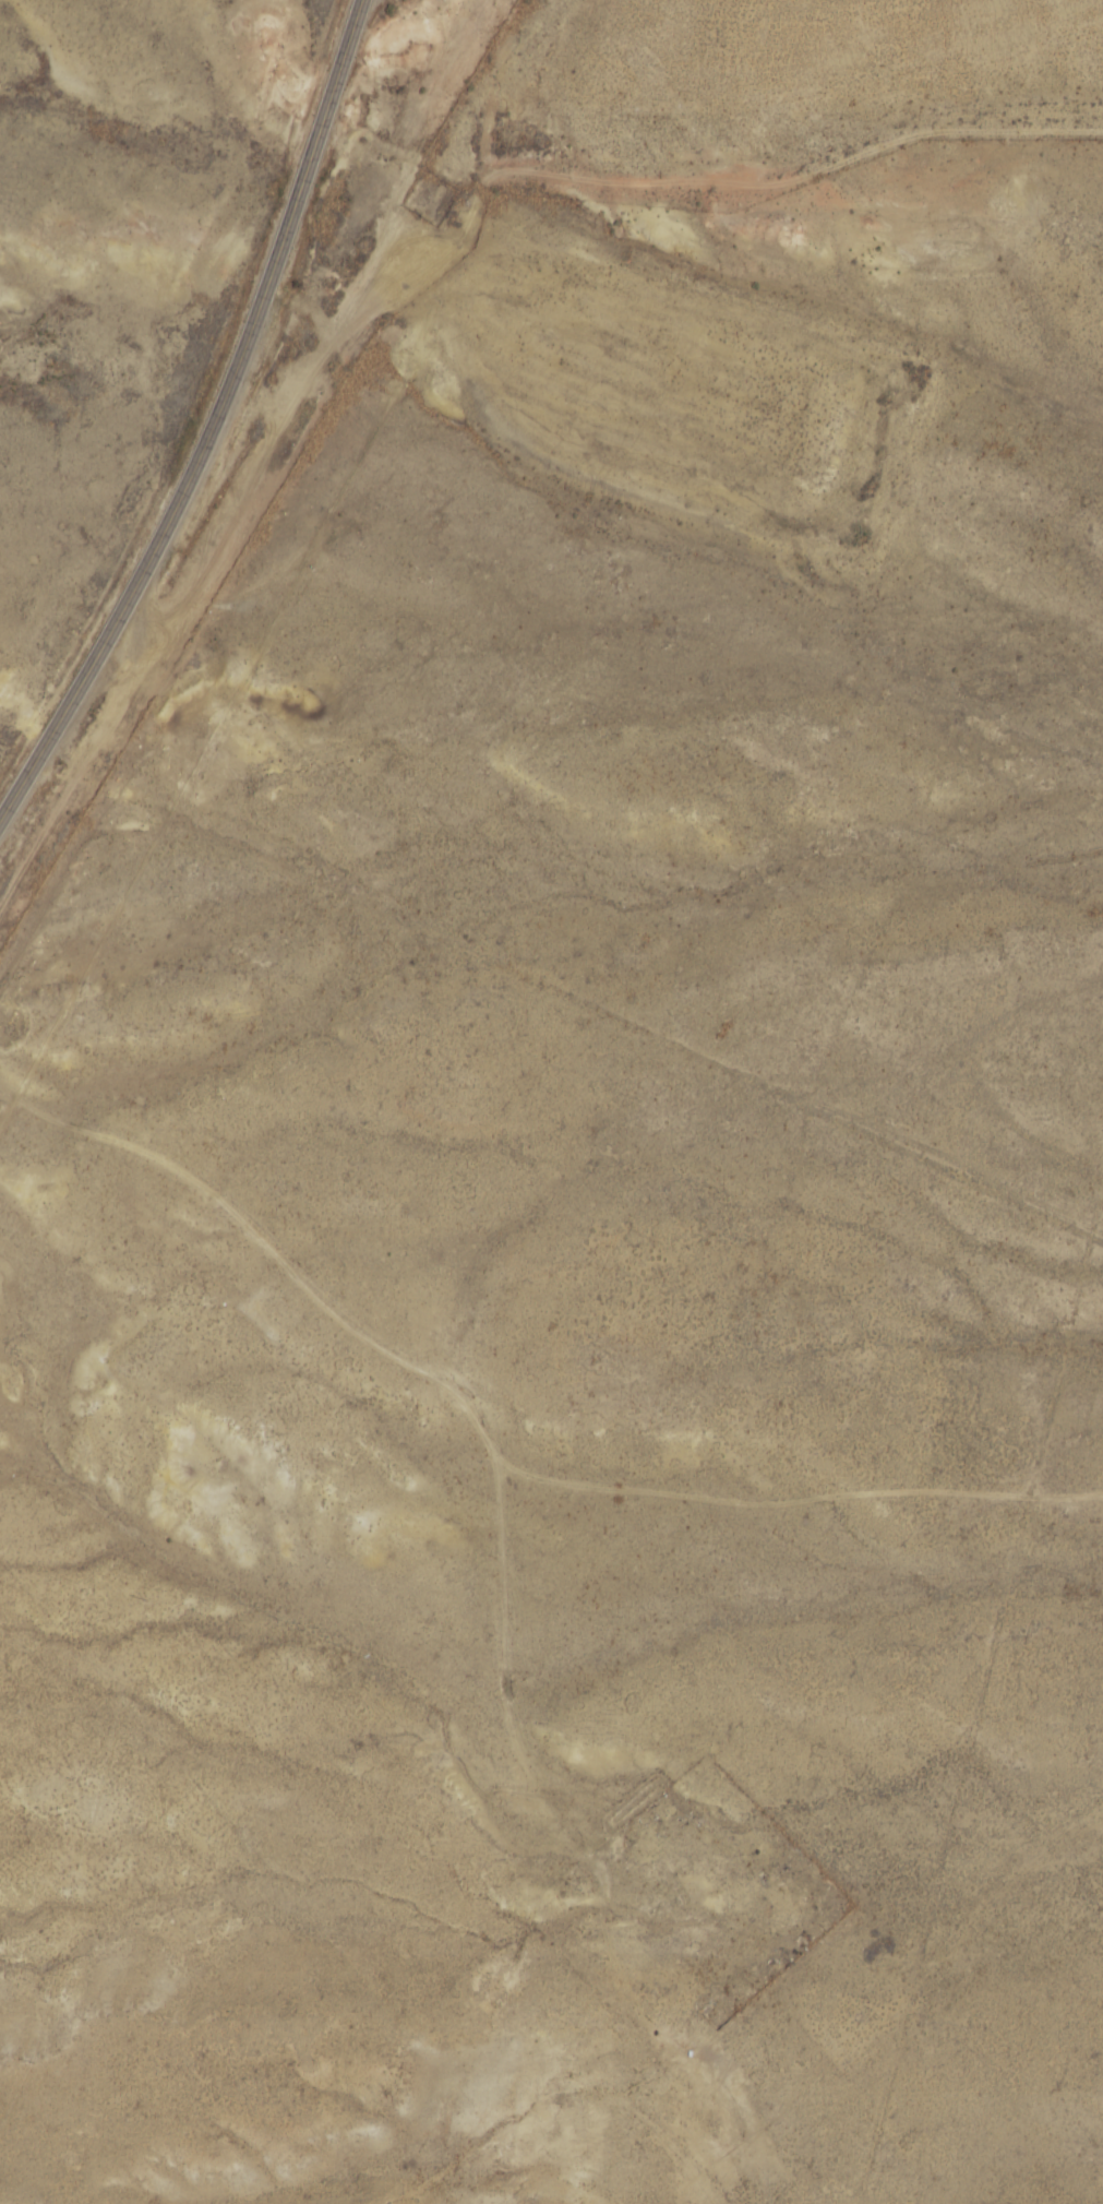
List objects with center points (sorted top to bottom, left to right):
road: (216, 421)

